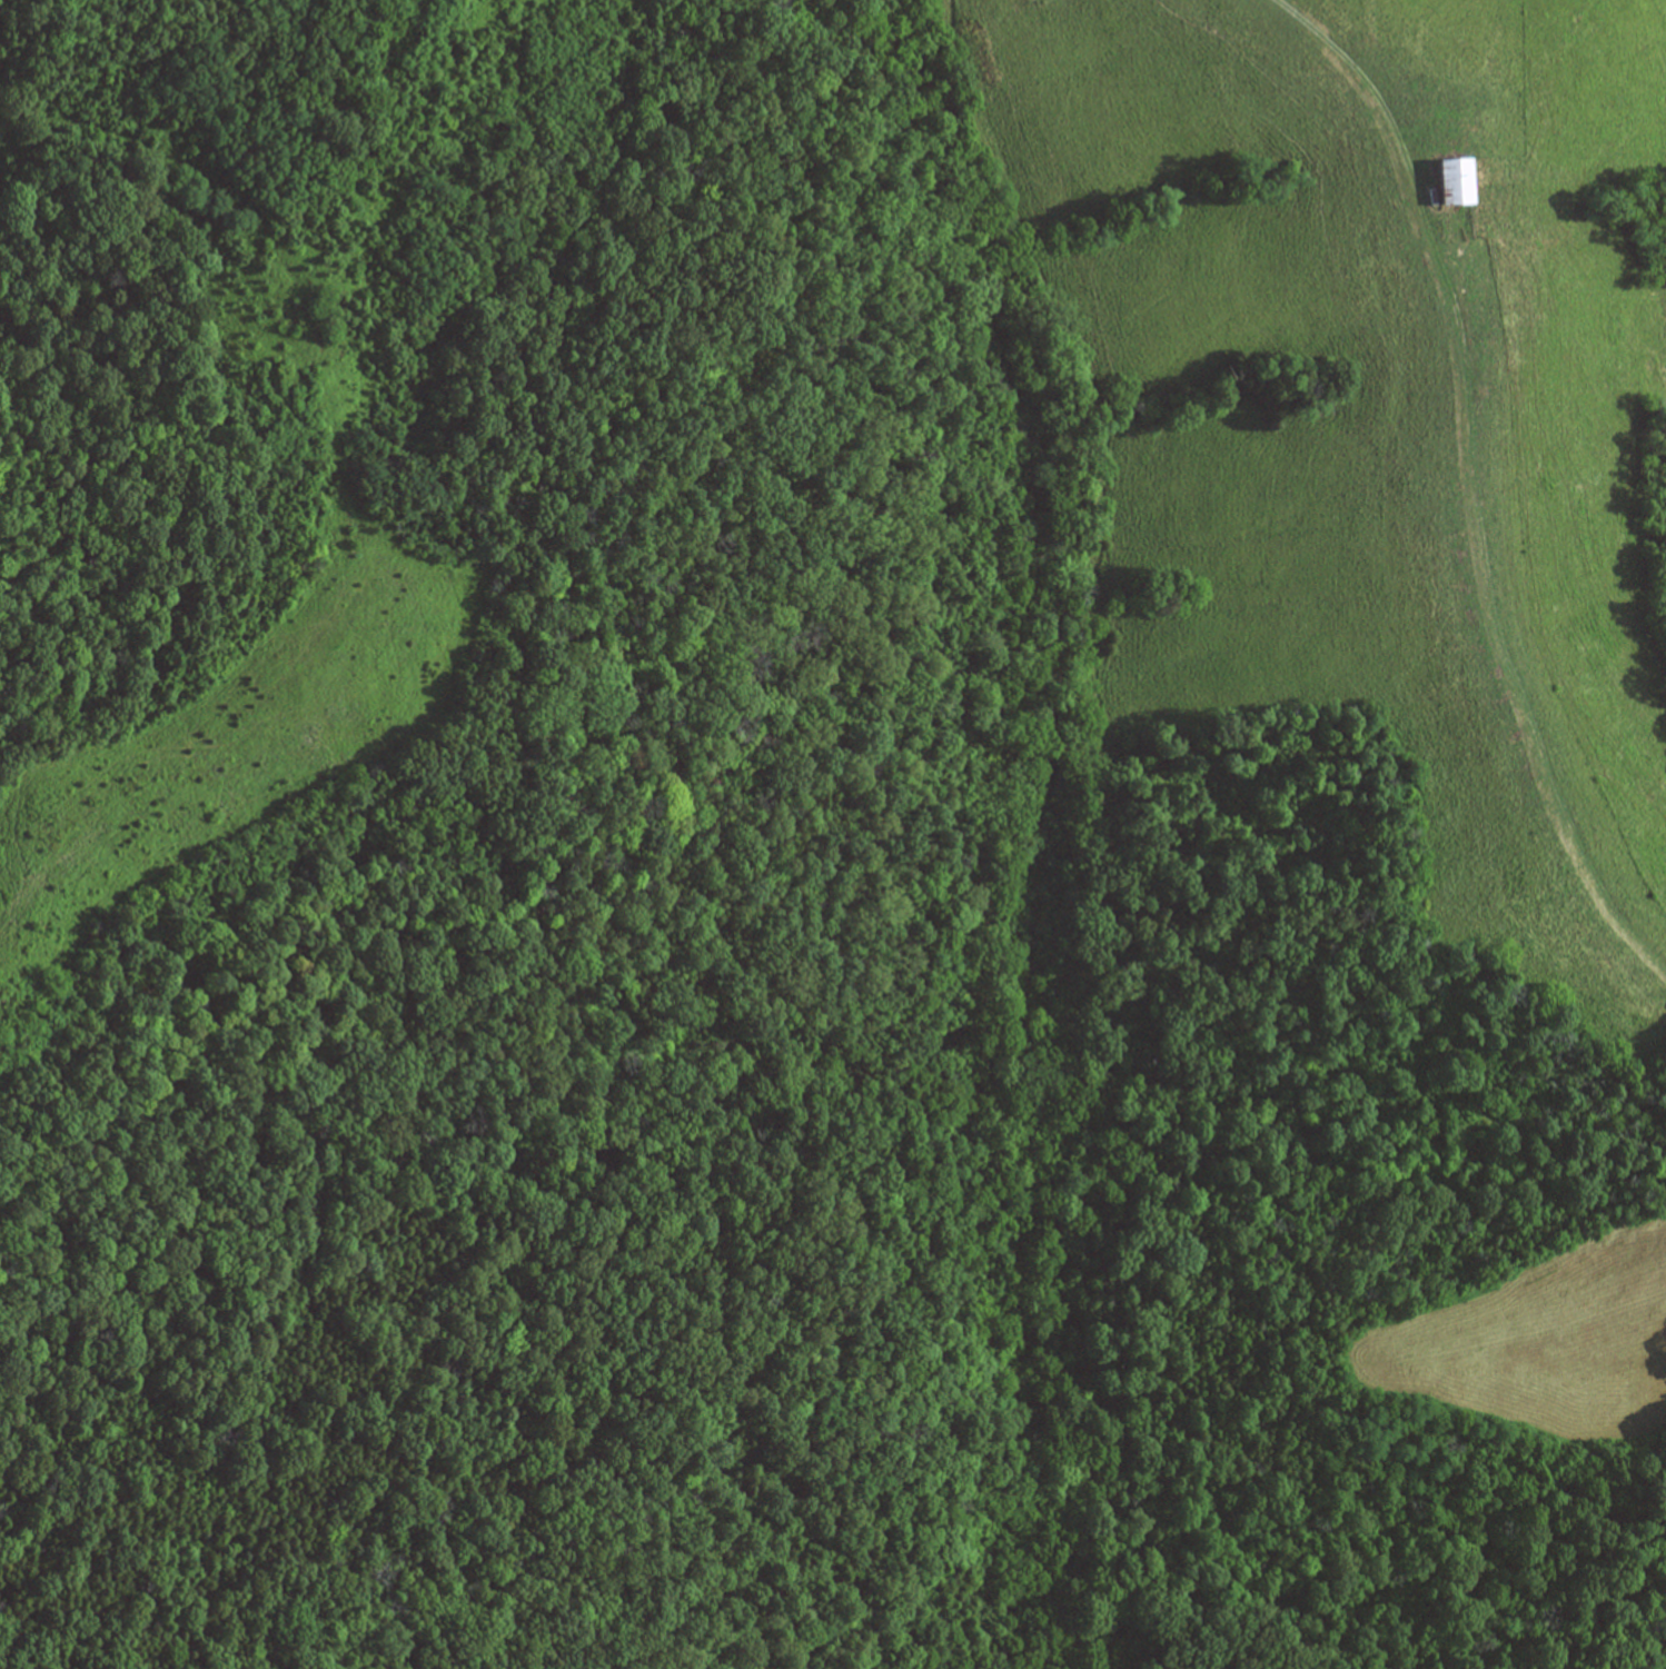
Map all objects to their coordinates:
building: (1456, 182)

